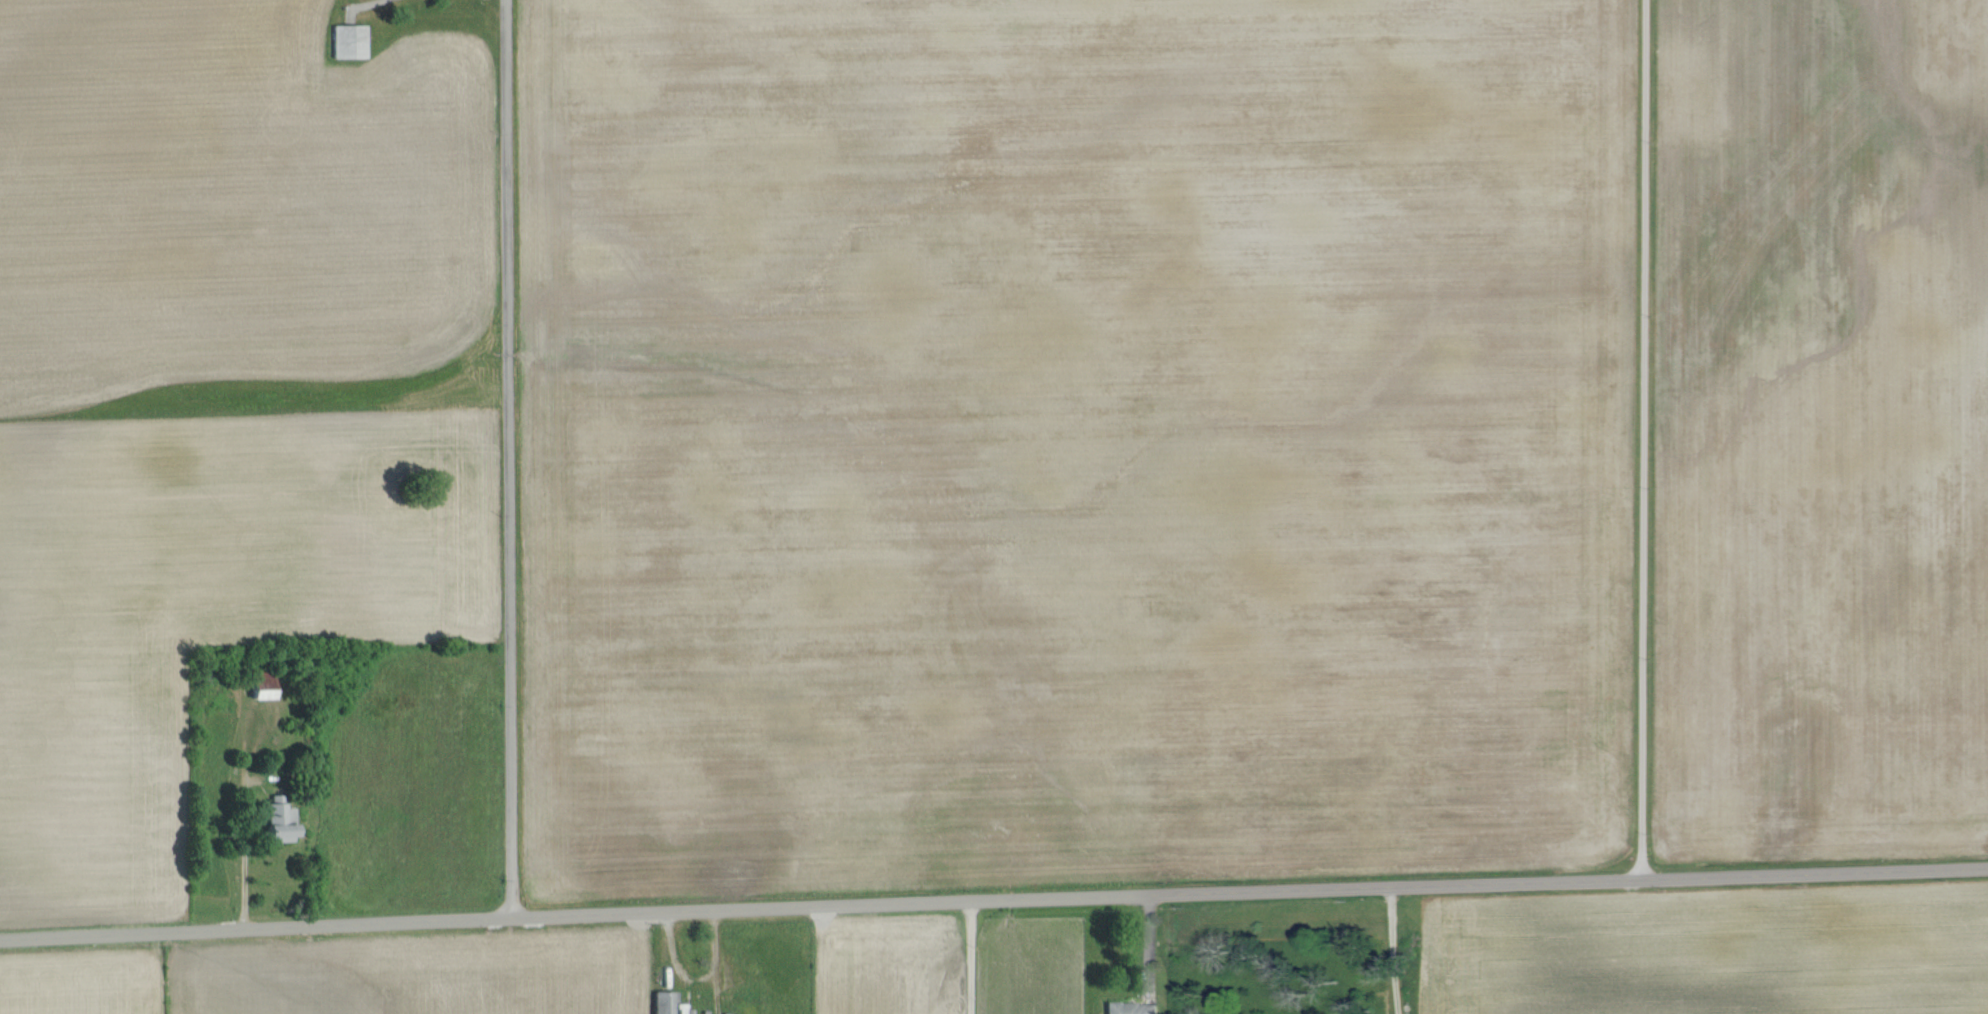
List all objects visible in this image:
building: (350, 41)
road: (1643, 438)
road: (509, 458)
building: (261, 695)
building: (282, 822)
road: (243, 862)
road: (993, 899)
road: (1391, 949)
road: (969, 957)
building: (665, 1002)
building: (1134, 1008)

